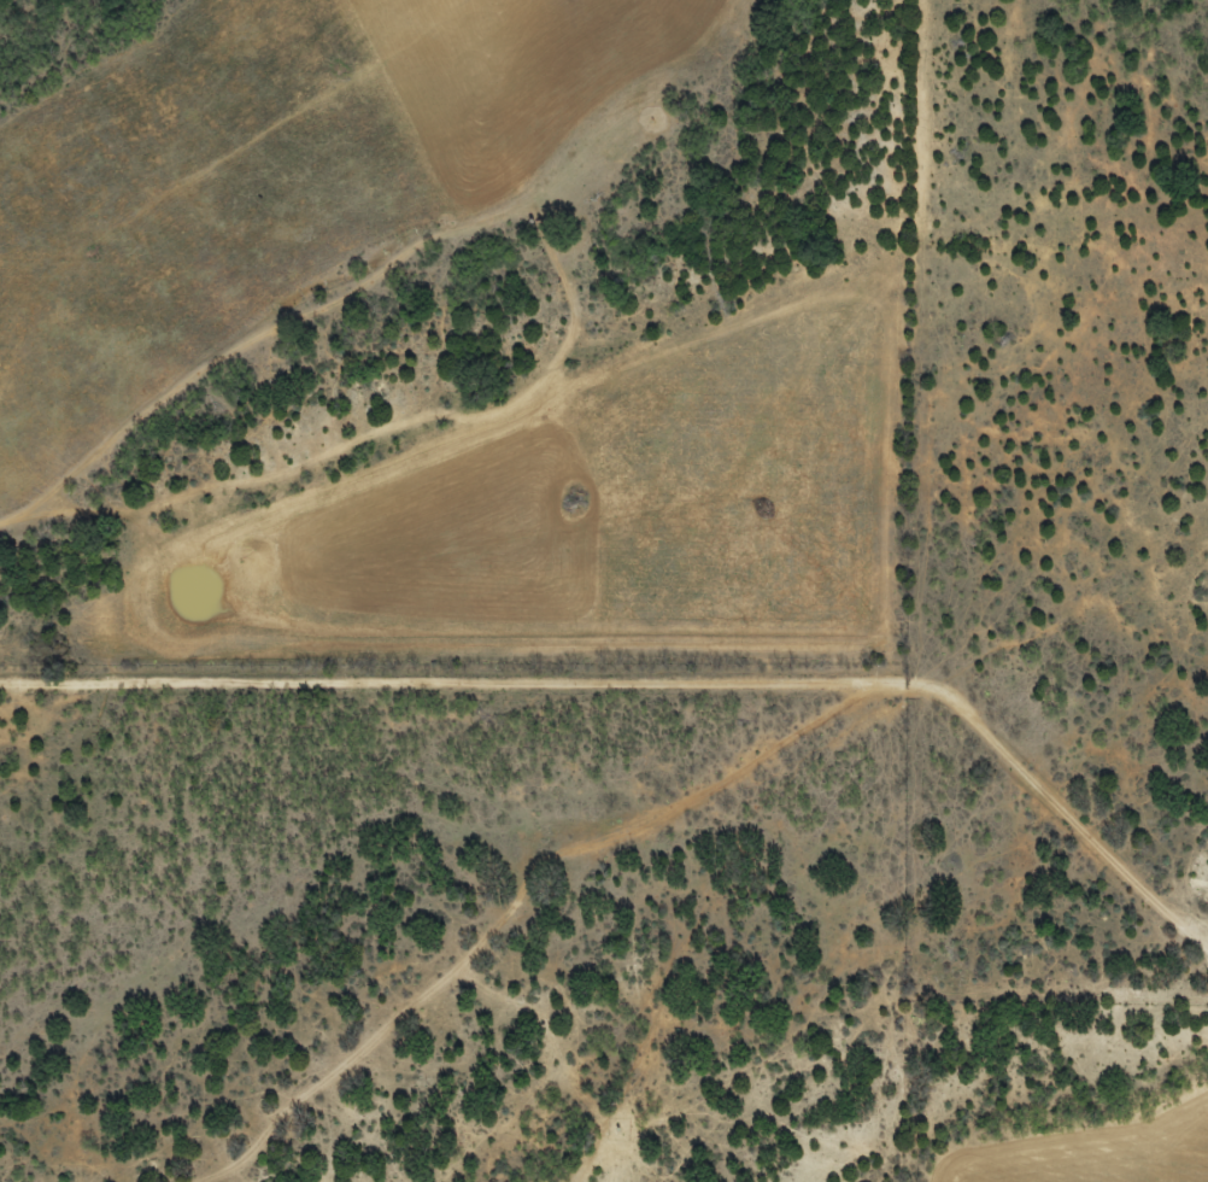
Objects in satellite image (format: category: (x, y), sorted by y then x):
road: (641, 714)
road: (514, 972)

